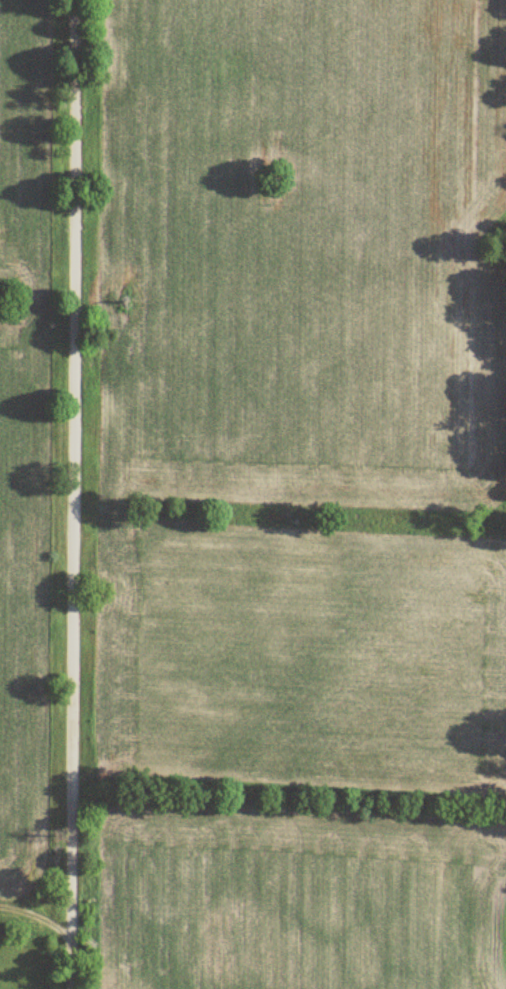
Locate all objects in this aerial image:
road: (75, 494)

